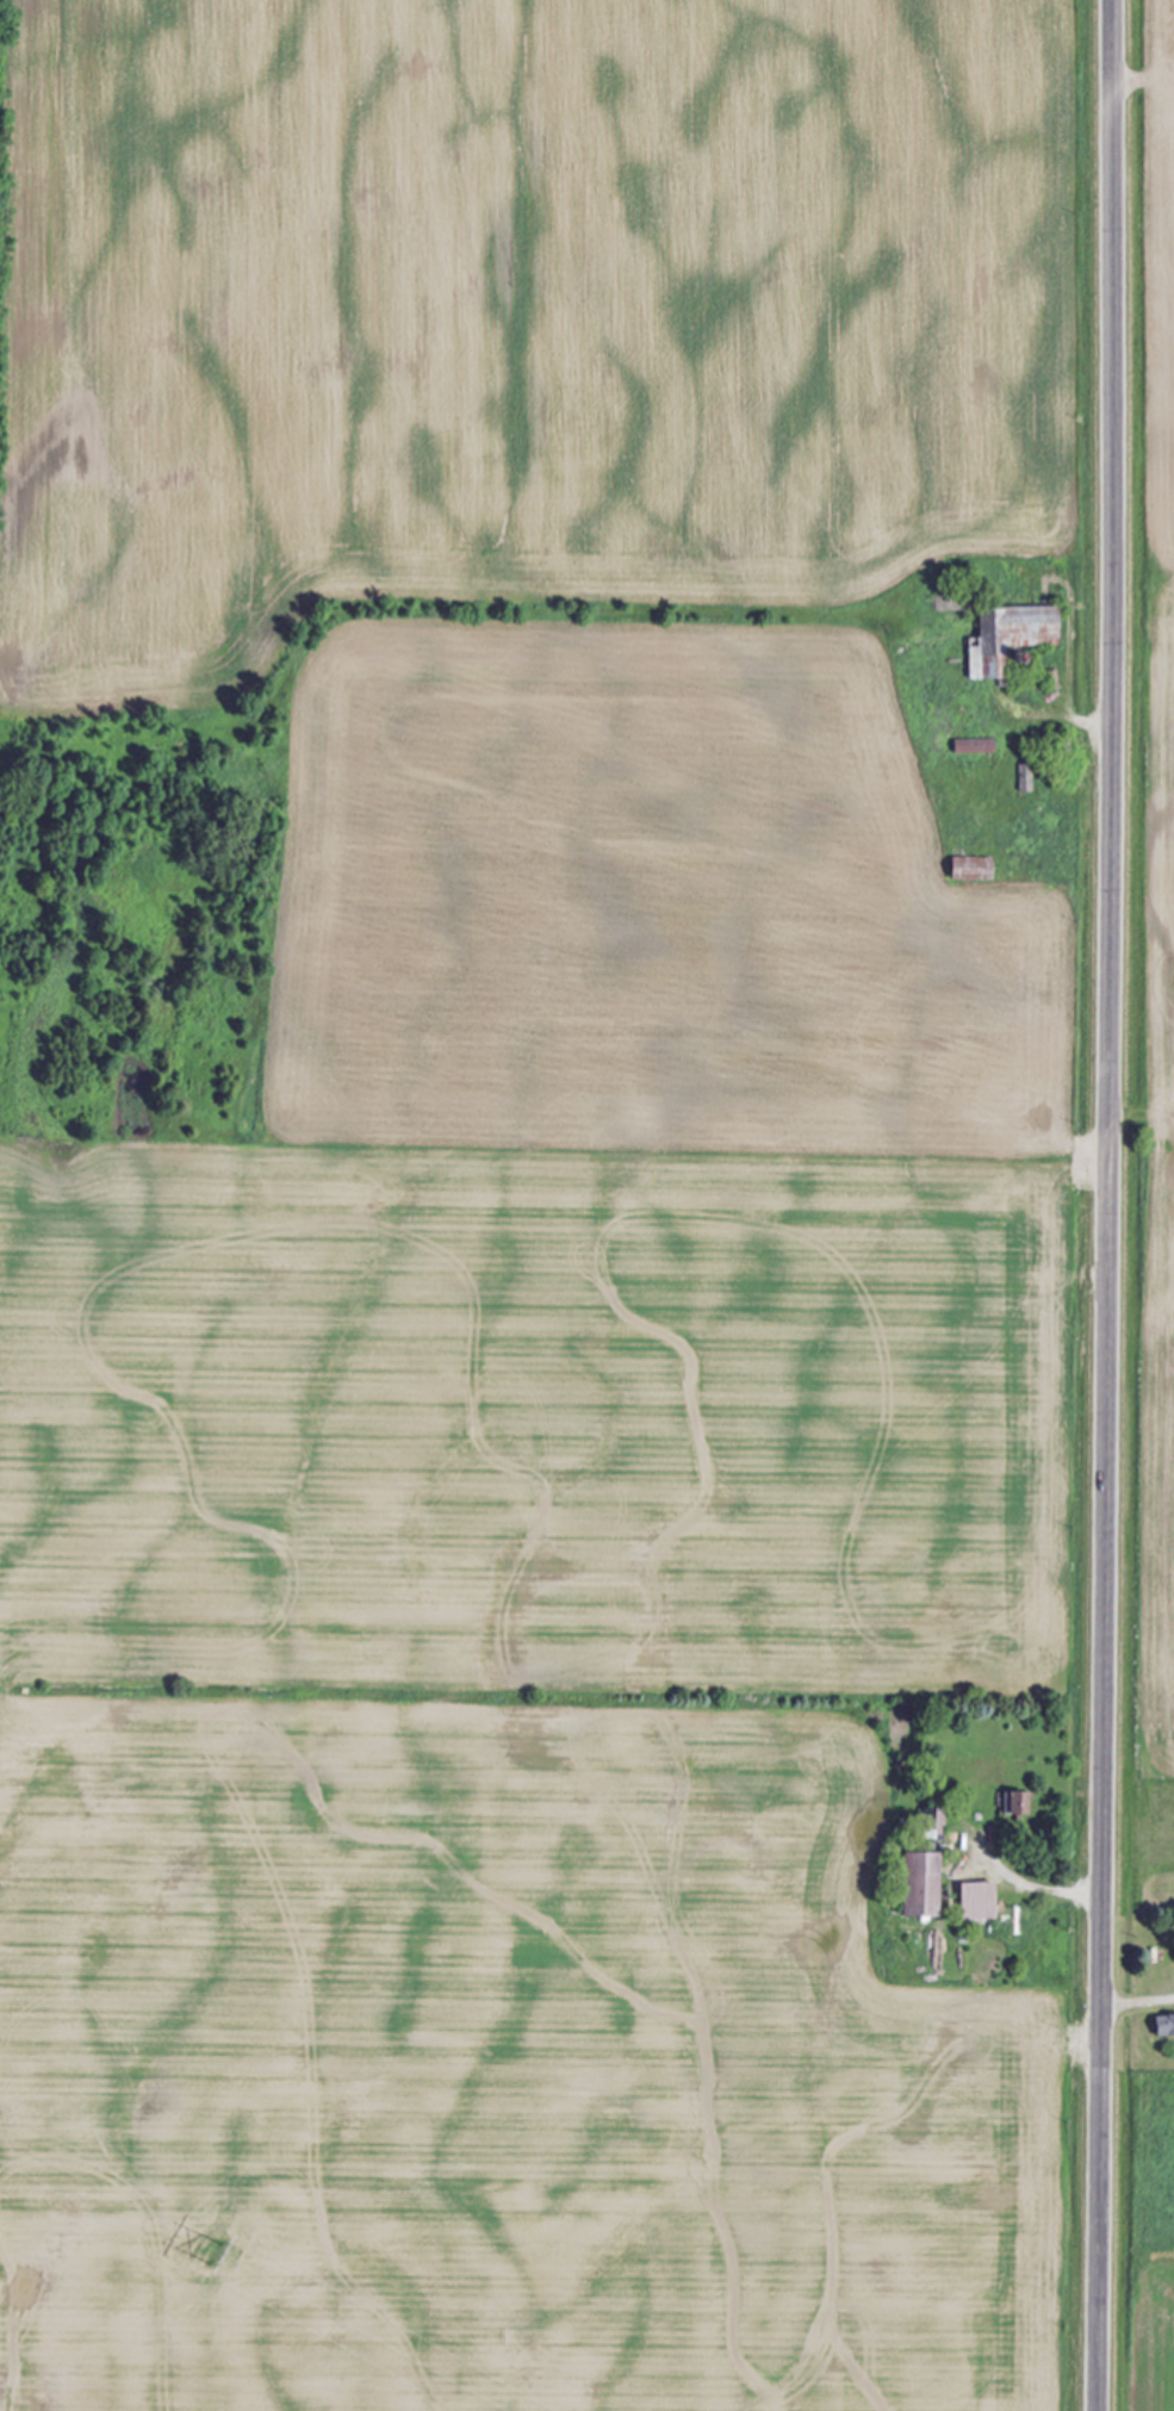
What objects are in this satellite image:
building: (1012, 636)
building: (973, 868)
road: (1107, 1205)
building: (1019, 1803)
building: (937, 1827)
building: (923, 1885)
road: (1041, 1888)
building: (979, 1901)
road: (1137, 2003)
building: (1164, 2026)
power tower: (216, 2254)

